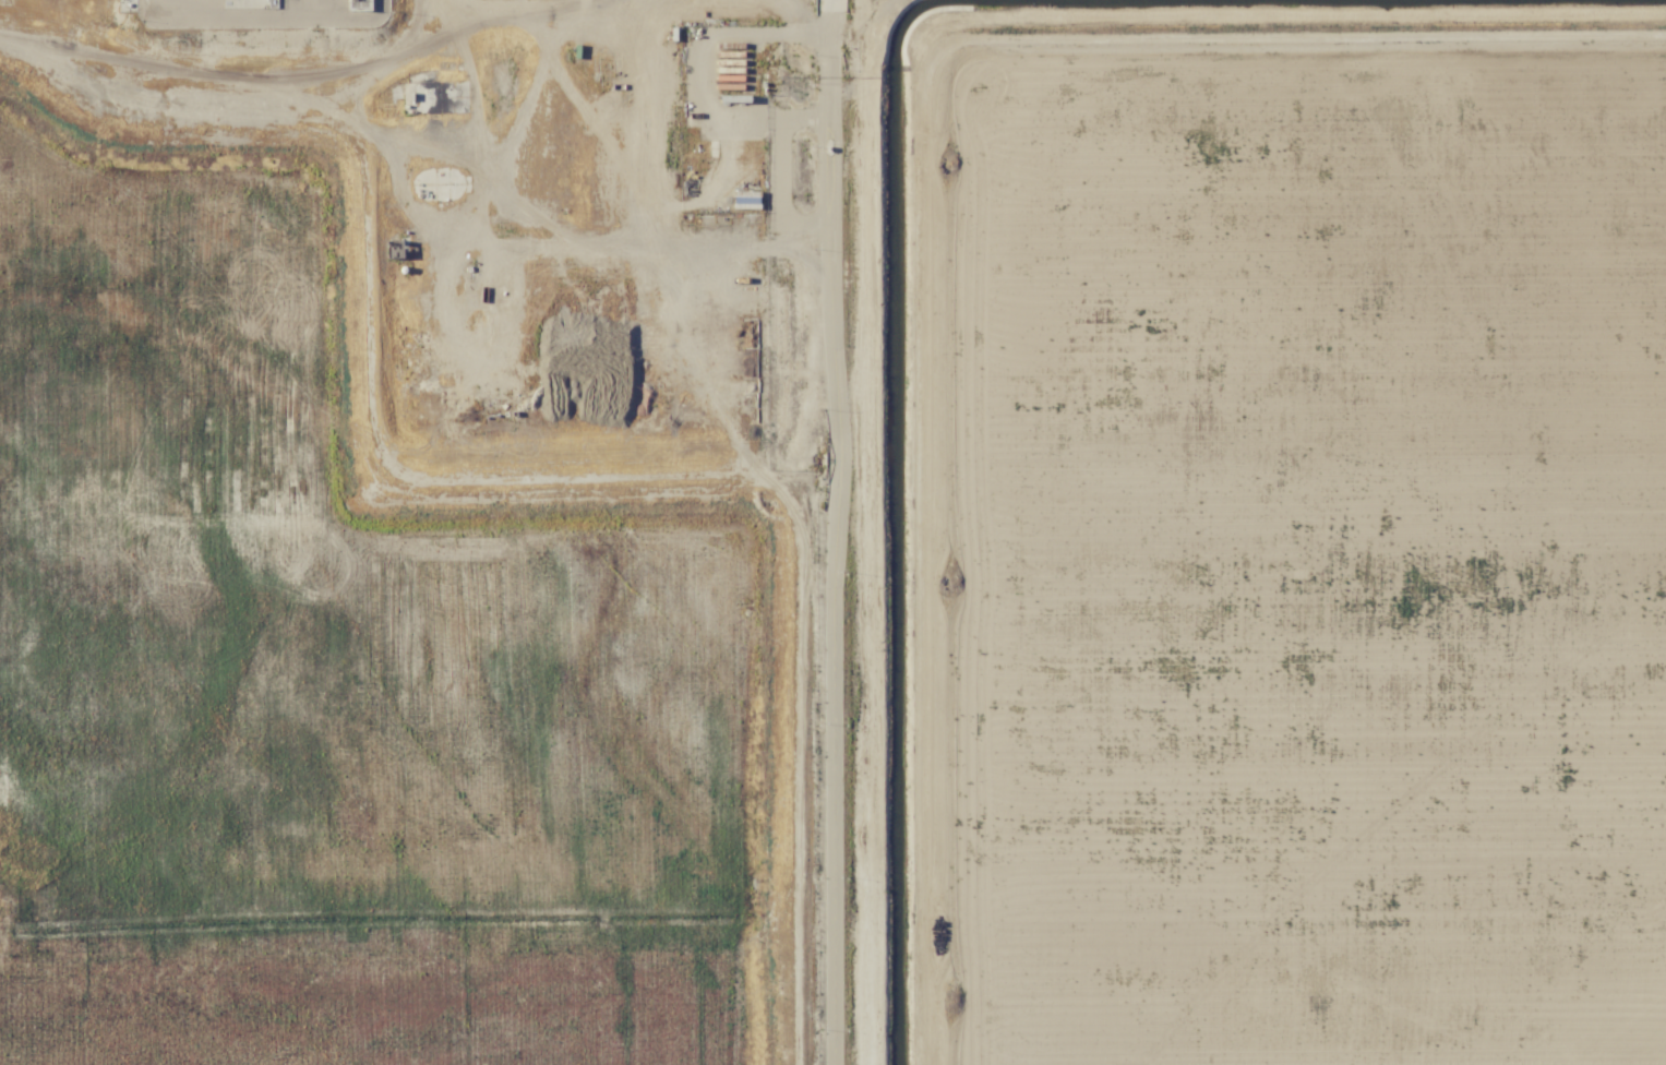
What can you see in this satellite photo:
building: (744, 199)
wastewater plant: (430, 531)
road: (834, 531)
crop: (1302, 547)
wastewater plant: (335, 683)

